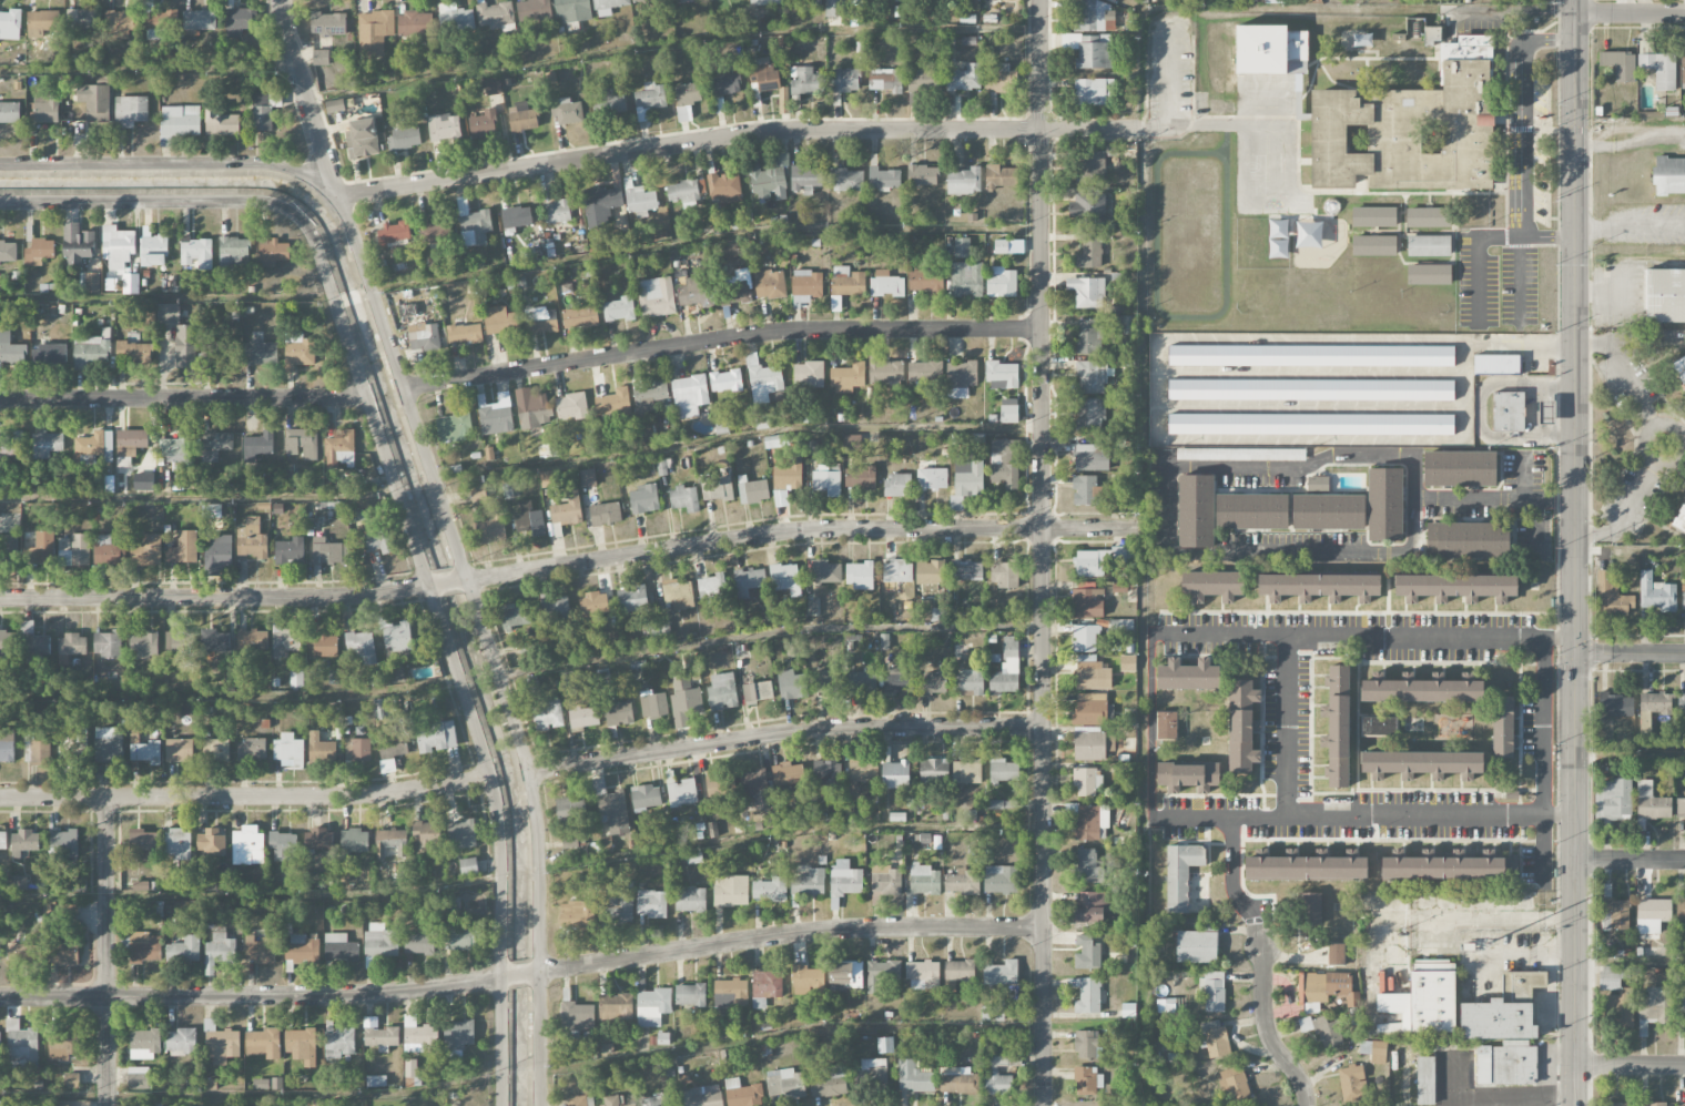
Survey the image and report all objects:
building: (647, 0)
building: (765, 2)
building: (607, 6)
building: (835, 8)
road: (1517, 8)
building: (532, 10)
building: (572, 10)
road: (1631, 13)
building: (1092, 16)
building: (496, 17)
building: (81, 19)
building: (200, 20)
building: (456, 20)
building: (240, 21)
building: (42, 23)
building: (121, 23)
building: (160, 23)
building: (10, 24)
building: (328, 24)
building: (415, 24)
building: (374, 32)
building: (1090, 50)
building: (1270, 50)
building: (321, 58)
building: (1620, 64)
building: (1683, 67)
road: (134, 69)
building: (1659, 69)
building: (763, 74)
building: (965, 78)
building: (845, 79)
building: (1001, 79)
building: (803, 80)
building: (885, 80)
building: (923, 81)
building: (727, 84)
building: (493, 85)
building: (1090, 91)
building: (689, 93)
road: (304, 100)
building: (649, 100)
building: (94, 102)
building: (608, 102)
building: (335, 105)
road: (1173, 108)
building: (45, 109)
building: (130, 111)
building: (566, 111)
building: (10, 112)
building: (262, 112)
building: (520, 119)
building: (179, 122)
building: (221, 123)
building: (484, 124)
building: (444, 128)
building: (1410, 128)
road: (735, 134)
building: (362, 139)
building: (404, 139)
road: (1517, 140)
road: (1631, 142)
road: (172, 163)
building: (1098, 164)
building: (922, 175)
building: (1669, 175)
building: (768, 176)
building: (1001, 176)
building: (883, 177)
building: (805, 179)
building: (847, 180)
building: (963, 181)
building: (723, 187)
building: (683, 192)
building: (640, 201)
road: (155, 202)
building: (600, 204)
building: (1088, 207)
building: (556, 211)
building: (515, 216)
building: (1373, 216)
building: (1428, 216)
building: (473, 224)
road: (1631, 225)
building: (436, 232)
building: (394, 233)
building: (77, 245)
building: (1373, 245)
building: (1429, 245)
building: (118, 246)
building: (962, 247)
building: (153, 248)
building: (8, 251)
building: (234, 251)
building: (1089, 251)
building: (39, 252)
building: (273, 252)
building: (196, 253)
building: (1429, 274)
road: (1519, 275)
building: (966, 278)
building: (926, 281)
building: (1001, 282)
building: (89, 283)
building: (130, 283)
building: (885, 283)
building: (769, 284)
building: (806, 285)
building: (845, 285)
building: (697, 291)
building: (1087, 291)
building: (735, 292)
building: (1665, 295)
building: (656, 296)
building: (618, 308)
building: (168, 314)
building: (580, 315)
building: (500, 321)
building: (540, 323)
building: (1127, 324)
building: (464, 334)
road: (1646, 334)
building: (1088, 335)
building: (424, 336)
road: (721, 338)
road: (1593, 343)
building: (185, 346)
building: (215, 348)
building: (11, 351)
building: (92, 352)
building: (134, 353)
building: (262, 353)
building: (300, 354)
building: (49, 355)
building: (1311, 355)
building: (1496, 364)
building: (1679, 369)
building: (885, 372)
building: (923, 373)
building: (808, 374)
building: (1001, 375)
building: (1092, 376)
building: (846, 377)
building: (961, 378)
road: (1157, 378)
building: (725, 380)
building: (763, 380)
road: (1633, 384)
building: (1310, 389)
building: (689, 395)
building: (650, 396)
road: (183, 398)
building: (612, 402)
building: (571, 406)
road: (1480, 409)
road: (1535, 409)
building: (1008, 410)
building: (1508, 410)
building: (1546, 412)
building: (496, 414)
building: (535, 414)
building: (1090, 414)
building: (1310, 424)
building: (454, 427)
building: (131, 442)
building: (851, 443)
building: (302, 444)
building: (11, 445)
building: (45, 445)
building: (215, 445)
building: (257, 446)
building: (94, 448)
building: (174, 448)
building: (339, 450)
building: (1250, 454)
road: (1651, 456)
building: (1090, 457)
building: (1005, 461)
building: (1460, 468)
road: (1200, 470)
building: (968, 474)
building: (786, 476)
building: (587, 477)
building: (860, 477)
road: (1522, 477)
building: (932, 478)
building: (826, 481)
building: (144, 483)
building: (1318, 484)
building: (897, 485)
building: (715, 487)
building: (752, 489)
building: (1085, 490)
building: (478, 493)
building: (643, 498)
building: (684, 498)
building: (956, 501)
building: (1384, 504)
building: (567, 509)
building: (1196, 510)
building: (1251, 510)
building: (1328, 511)
road: (1624, 511)
building: (605, 514)
building: (359, 516)
building: (528, 519)
building: (1681, 520)
road: (1536, 522)
building: (489, 529)
road: (794, 530)
building: (252, 539)
building: (1468, 539)
building: (378, 541)
building: (183, 548)
building: (40, 549)
building: (9, 550)
building: (73, 550)
building: (145, 550)
building: (108, 551)
building: (290, 551)
building: (219, 552)
building: (329, 552)
road: (1043, 552)
road: (1575, 552)
building: (1124, 555)
building: (1090, 562)
building: (966, 569)
building: (825, 570)
building: (897, 571)
building: (930, 571)
building: (1004, 574)
building: (859, 575)
building: (783, 576)
building: (749, 580)
road: (446, 584)
building: (1211, 585)
building: (711, 586)
building: (1319, 587)
building: (1456, 587)
building: (1119, 588)
building: (678, 593)
building: (1656, 593)
building: (1611, 596)
road: (217, 598)
building: (1684, 598)
building: (631, 599)
building: (1087, 602)
building: (591, 608)
building: (556, 609)
building: (924, 609)
building: (516, 616)
building: (658, 630)
road: (769, 632)
road: (1363, 637)
building: (1085, 638)
traffic signals: (1575, 639)
building: (252, 640)
building: (398, 640)
building: (33, 641)
building: (216, 641)
building: (8, 642)
building: (286, 642)
road: (487, 642)
building: (323, 643)
building: (106, 645)
building: (144, 645)
building: (71, 647)
building: (362, 647)
traffic signals: (1575, 655)
road: (1630, 655)
road: (451, 656)
building: (1127, 662)
building: (1006, 669)
building: (396, 673)
building: (1188, 674)
building: (899, 680)
building: (936, 680)
building: (825, 682)
building: (863, 682)
building: (968, 682)
building: (529, 684)
building: (792, 684)
building: (1422, 690)
building: (722, 691)
building: (757, 691)
building: (683, 700)
building: (1682, 702)
building: (652, 703)
building: (1616, 704)
building: (384, 708)
building: (1090, 709)
building: (619, 712)
building: (1652, 712)
building: (548, 714)
building: (582, 717)
building: (1166, 724)
building: (1242, 724)
road: (1153, 726)
building: (1338, 726)
building: (1379, 726)
building: (1503, 726)
road: (1288, 727)
road: (784, 731)
building: (436, 738)
building: (1089, 743)
building: (7, 744)
building: (108, 745)
building: (390, 747)
building: (251, 749)
building: (37, 750)
building: (180, 750)
building: (290, 750)
building: (321, 750)
building: (357, 750)
building: (72, 752)
building: (146, 752)
road: (1545, 760)
building: (1421, 763)
building: (861, 770)
building: (934, 770)
building: (1003, 770)
building: (966, 771)
building: (786, 773)
building: (895, 774)
building: (1188, 777)
building: (829, 779)
building: (1087, 781)
building: (720, 787)
building: (754, 788)
building: (681, 792)
road: (245, 795)
building: (644, 798)
building: (1652, 802)
building: (569, 806)
building: (1681, 808)
building: (613, 812)
road: (1363, 816)
building: (1090, 821)
building: (426, 833)
building: (461, 834)
building: (319, 839)
building: (3, 840)
building: (354, 841)
building: (24, 842)
building: (392, 842)
building: (211, 843)
building: (63, 844)
building: (143, 844)
building: (179, 844)
building: (283, 845)
building: (248, 849)
road: (1630, 861)
building: (1087, 865)
building: (469, 866)
building: (1306, 867)
building: (1450, 867)
road: (1232, 870)
building: (404, 871)
building: (1180, 874)
building: (845, 877)
building: (924, 879)
building: (1001, 879)
building: (885, 881)
building: (809, 882)
building: (963, 882)
building: (19, 883)
building: (78, 883)
building: (769, 889)
building: (731, 891)
building: (690, 900)
building: (651, 903)
building: (453, 905)
building: (1309, 907)
building: (617, 909)
building: (1681, 909)
building: (1089, 911)
building: (576, 914)
building: (1614, 914)
building: (1652, 914)
road: (1451, 917)
road: (783, 933)
building: (466, 936)
building: (380, 942)
building: (419, 943)
building: (1196, 946)
building: (339, 947)
building: (144, 948)
road: (105, 950)
building: (184, 951)
building: (258, 951)
building: (303, 951)
road: (1512, 951)
building: (64, 952)
building: (219, 952)
building: (23, 953)
building: (1086, 953)
building: (1336, 954)
building: (958, 971)
building: (844, 972)
building: (923, 972)
building: (1001, 973)
road: (519, 974)
building: (882, 974)
building: (1612, 976)
building: (808, 980)
building: (765, 986)
building: (1328, 987)
building: (1212, 990)
building: (730, 993)
road: (256, 994)
building: (690, 994)
building: (1086, 995)
building: (1681, 1003)
building: (1652, 1004)
building: (615, 1006)
building: (652, 1006)
building: (1618, 1007)
building: (1504, 1009)
building: (993, 1013)
road: (1265, 1016)
building: (576, 1018)
building: (1328, 1032)
building: (458, 1035)
building: (382, 1038)
building: (1214, 1038)
building: (420, 1039)
building: (182, 1042)
building: (264, 1043)
building: (62, 1044)
building: (145, 1044)
building: (302, 1044)
building: (338, 1044)
building: (884, 1044)
building: (1087, 1044)
building: (0, 1045)
building: (223, 1046)
building: (21, 1047)
building: (1378, 1052)
building: (999, 1061)
building: (1506, 1063)
road: (1630, 1067)
building: (872, 1072)
building: (914, 1076)
building: (139, 1078)
building: (1425, 1079)
building: (72, 1080)
building: (826, 1080)
building: (957, 1080)
building: (1085, 1080)
building: (376, 1082)
building: (785, 1082)
building: (996, 1083)
building: (1352, 1083)
building: (1234, 1084)
building: (741, 1093)
building: (702, 1096)
building: (657, 1099)
building: (576, 1100)
building: (613, 1102)
building: (1616, 1104)
building: (1654, 1104)

